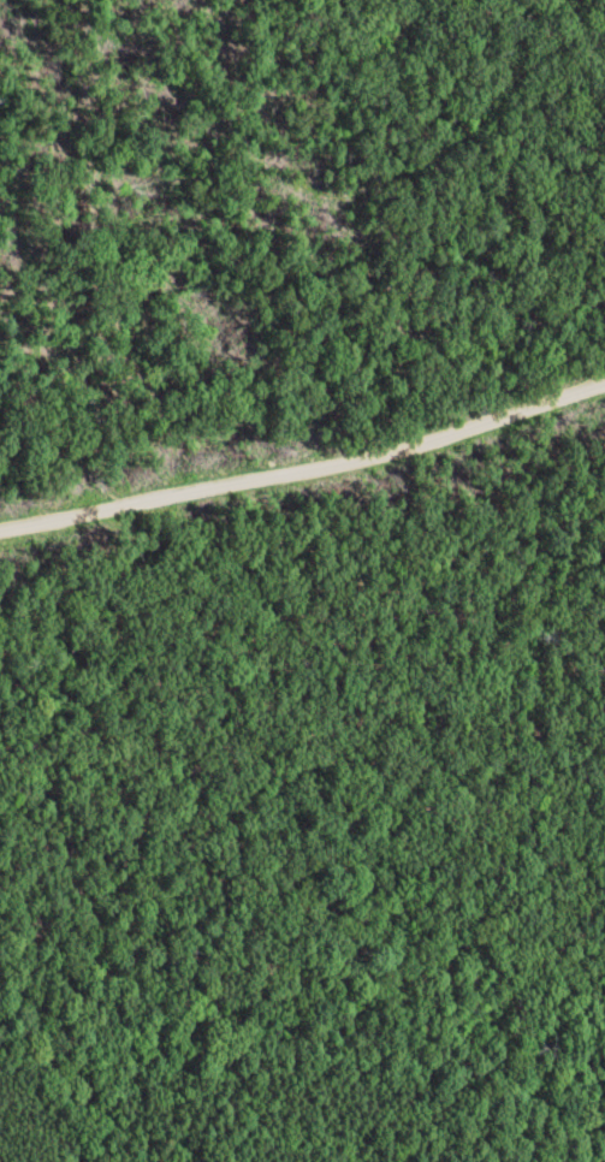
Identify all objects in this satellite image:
road: (302, 411)

